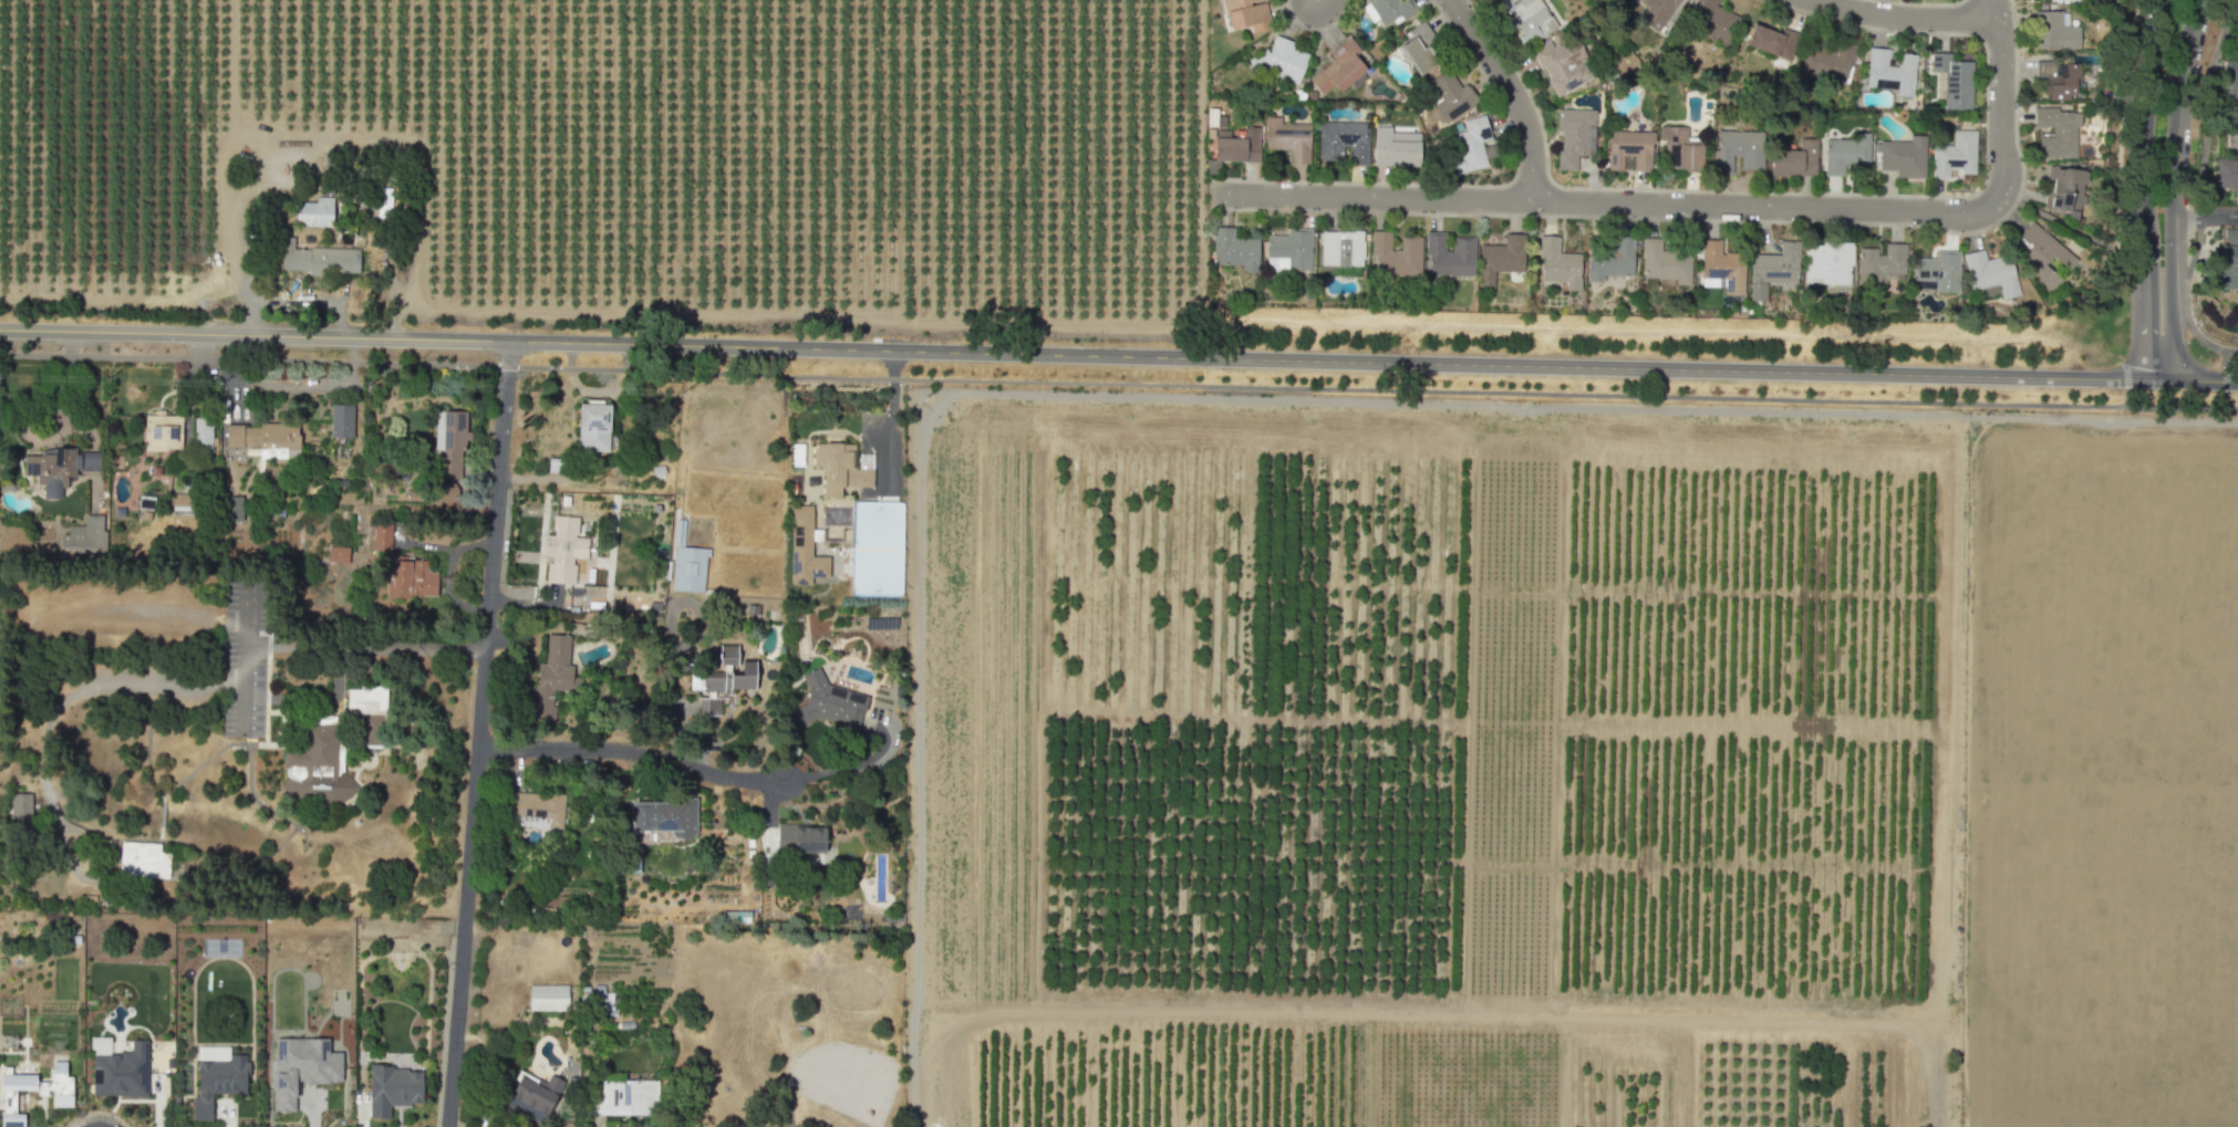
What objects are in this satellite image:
building: (1392, 8)
building: (1658, 11)
building: (1246, 14)
road: (1906, 15)
building: (1530, 18)
building: (2235, 19)
building: (1712, 20)
street lamp: (2175, 23)
building: (2053, 29)
road: (2229, 31)
street lamp: (1921, 33)
building: (1773, 38)
building: (1419, 44)
building: (1279, 58)
building: (1831, 59)
building: (1563, 62)
building: (1338, 64)
building: (1890, 69)
building: (2058, 74)
building: (1955, 77)
road: (231, 79)
building: (2229, 85)
road: (1512, 93)
building: (1450, 94)
road: (1999, 95)
road: (2207, 107)
road: (2121, 123)
building: (2056, 129)
building: (1573, 133)
street lamp: (2158, 133)
building: (1287, 136)
building: (1343, 138)
building: (2231, 140)
building: (1470, 142)
building: (1235, 144)
building: (1629, 147)
building: (1680, 147)
building: (1738, 147)
building: (1396, 148)
building: (1846, 150)
building: (1955, 153)
building: (1904, 155)
building: (1795, 157)
street lamp: (1983, 158)
building: (2227, 174)
building: (2065, 187)
road: (2144, 190)
road: (2169, 191)
road: (1606, 202)
building: (315, 211)
street lamp: (1532, 218)
road: (2203, 218)
park: (2062, 223)
street lamp: (1909, 225)
road: (2068, 226)
street lamp: (2161, 242)
building: (1291, 246)
building: (1340, 246)
road: (231, 247)
building: (1233, 247)
building: (1395, 252)
building: (1449, 252)
building: (2042, 253)
building: (1500, 257)
building: (319, 258)
building: (1610, 258)
building: (1665, 260)
building: (1828, 260)
building: (1558, 261)
building: (1880, 261)
building: (2228, 263)
building: (1722, 264)
building: (1774, 267)
building: (1938, 268)
building: (1990, 271)
road: (2185, 300)
road: (2122, 306)
road: (253, 337)
street lamp: (2187, 341)
road: (1333, 358)
street lamp: (2116, 361)
road: (2121, 377)
road: (2196, 379)
road: (2225, 380)
road: (1118, 382)
road: (278, 383)
road: (2121, 396)
road: (892, 414)
building: (340, 420)
building: (593, 427)
building: (162, 431)
building: (201, 432)
building: (241, 435)
building: (278, 439)
building: (450, 441)
building: (796, 457)
building: (866, 460)
building: (59, 467)
building: (839, 468)
building: (232, 508)
building: (381, 536)
building: (84, 538)
building: (874, 547)
building: (563, 549)
building: (804, 549)
building: (688, 568)
building: (411, 578)
road: (246, 612)
road: (1966, 646)
road: (364, 647)
building: (551, 676)
road: (244, 689)
road: (69, 699)
building: (829, 702)
road: (478, 733)
road: (631, 753)
building: (318, 766)
road: (845, 766)
road: (196, 769)
building: (20, 805)
building: (536, 805)
road: (163, 812)
building: (664, 816)
building: (526, 821)
building: (800, 837)
building: (143, 858)
building: (548, 996)
building: (597, 998)
road: (1412, 1021)
building: (301, 1066)
building: (122, 1071)
building: (218, 1082)
building: (43, 1083)
building: (392, 1086)
building: (532, 1096)
building: (626, 1097)
building: (11, 1119)

